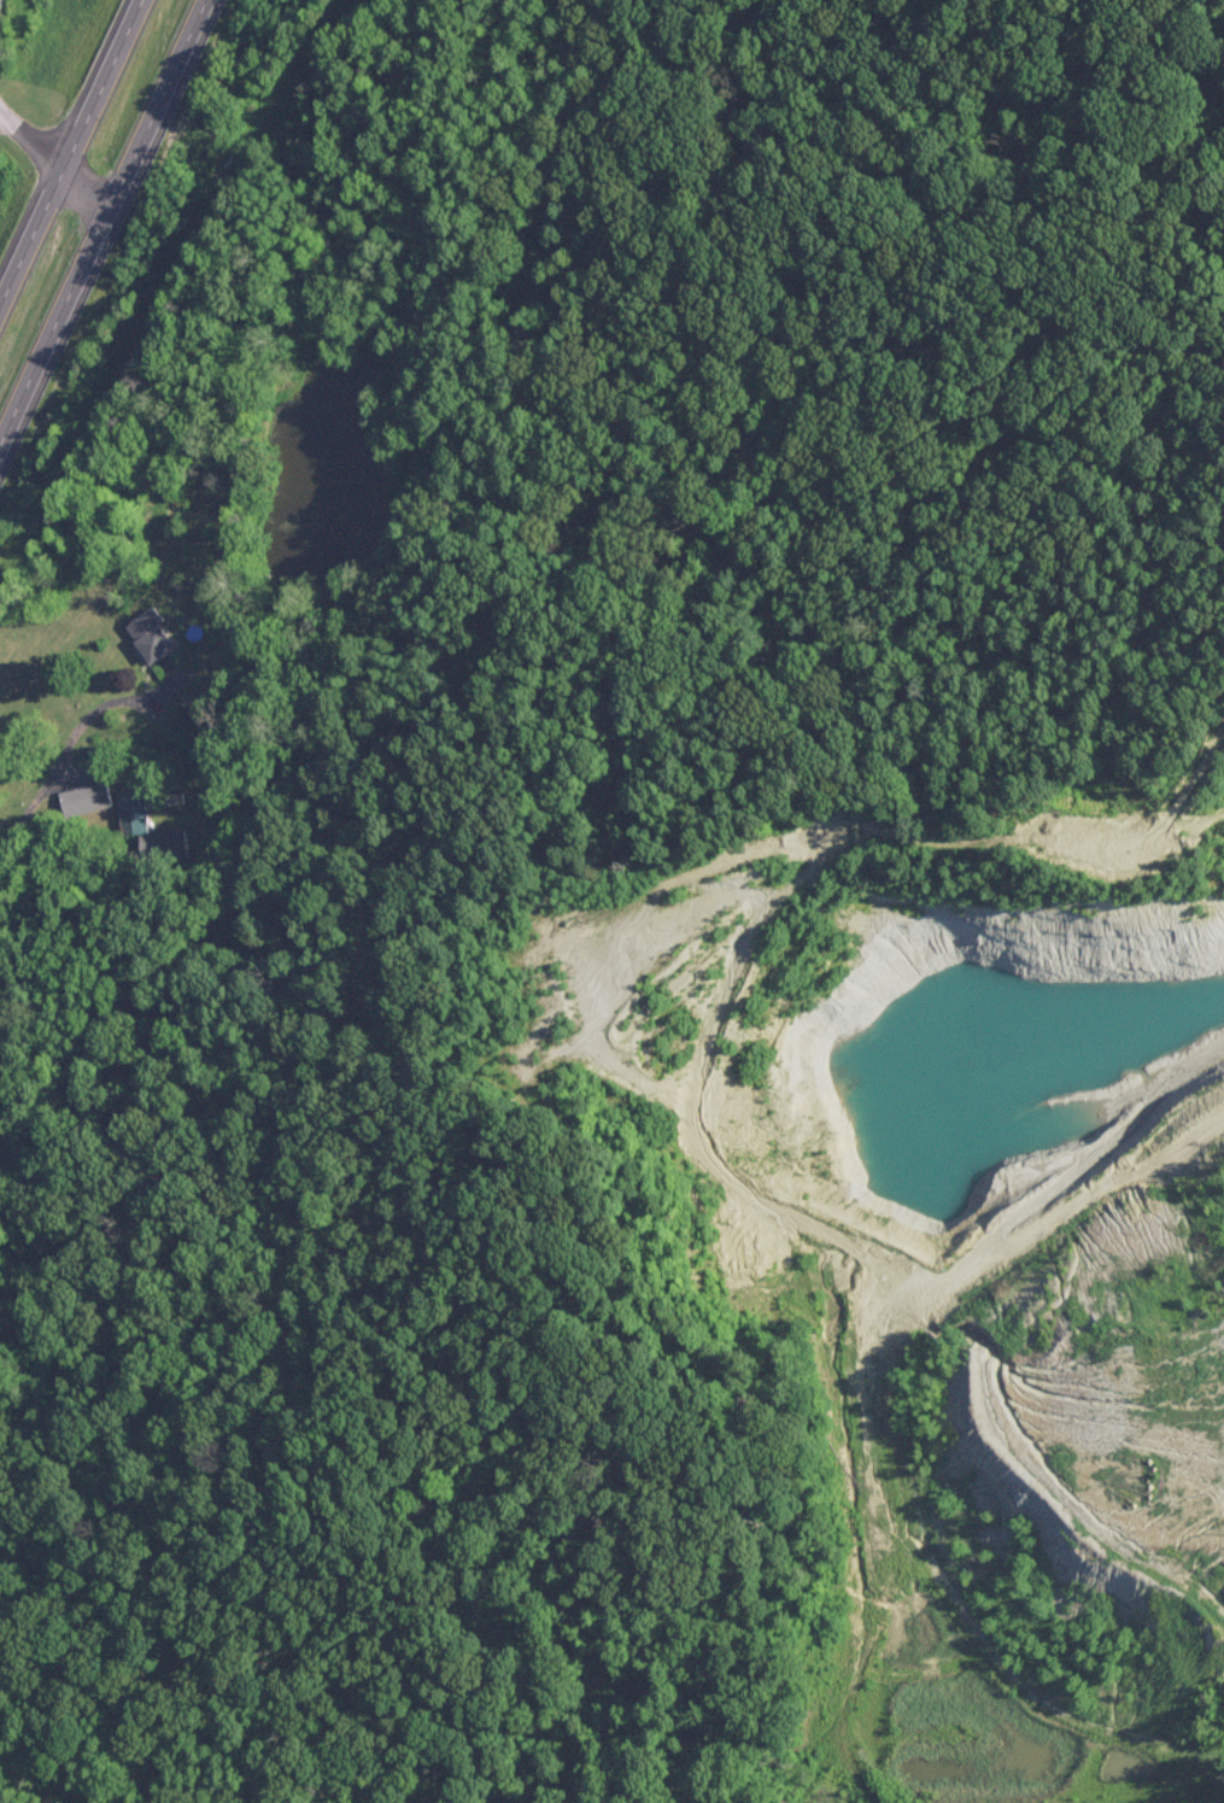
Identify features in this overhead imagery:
road: (70, 147)
road: (54, 159)
road: (103, 219)
building: (153, 636)
road: (69, 737)
building: (83, 798)
building: (133, 813)
building: (170, 842)

